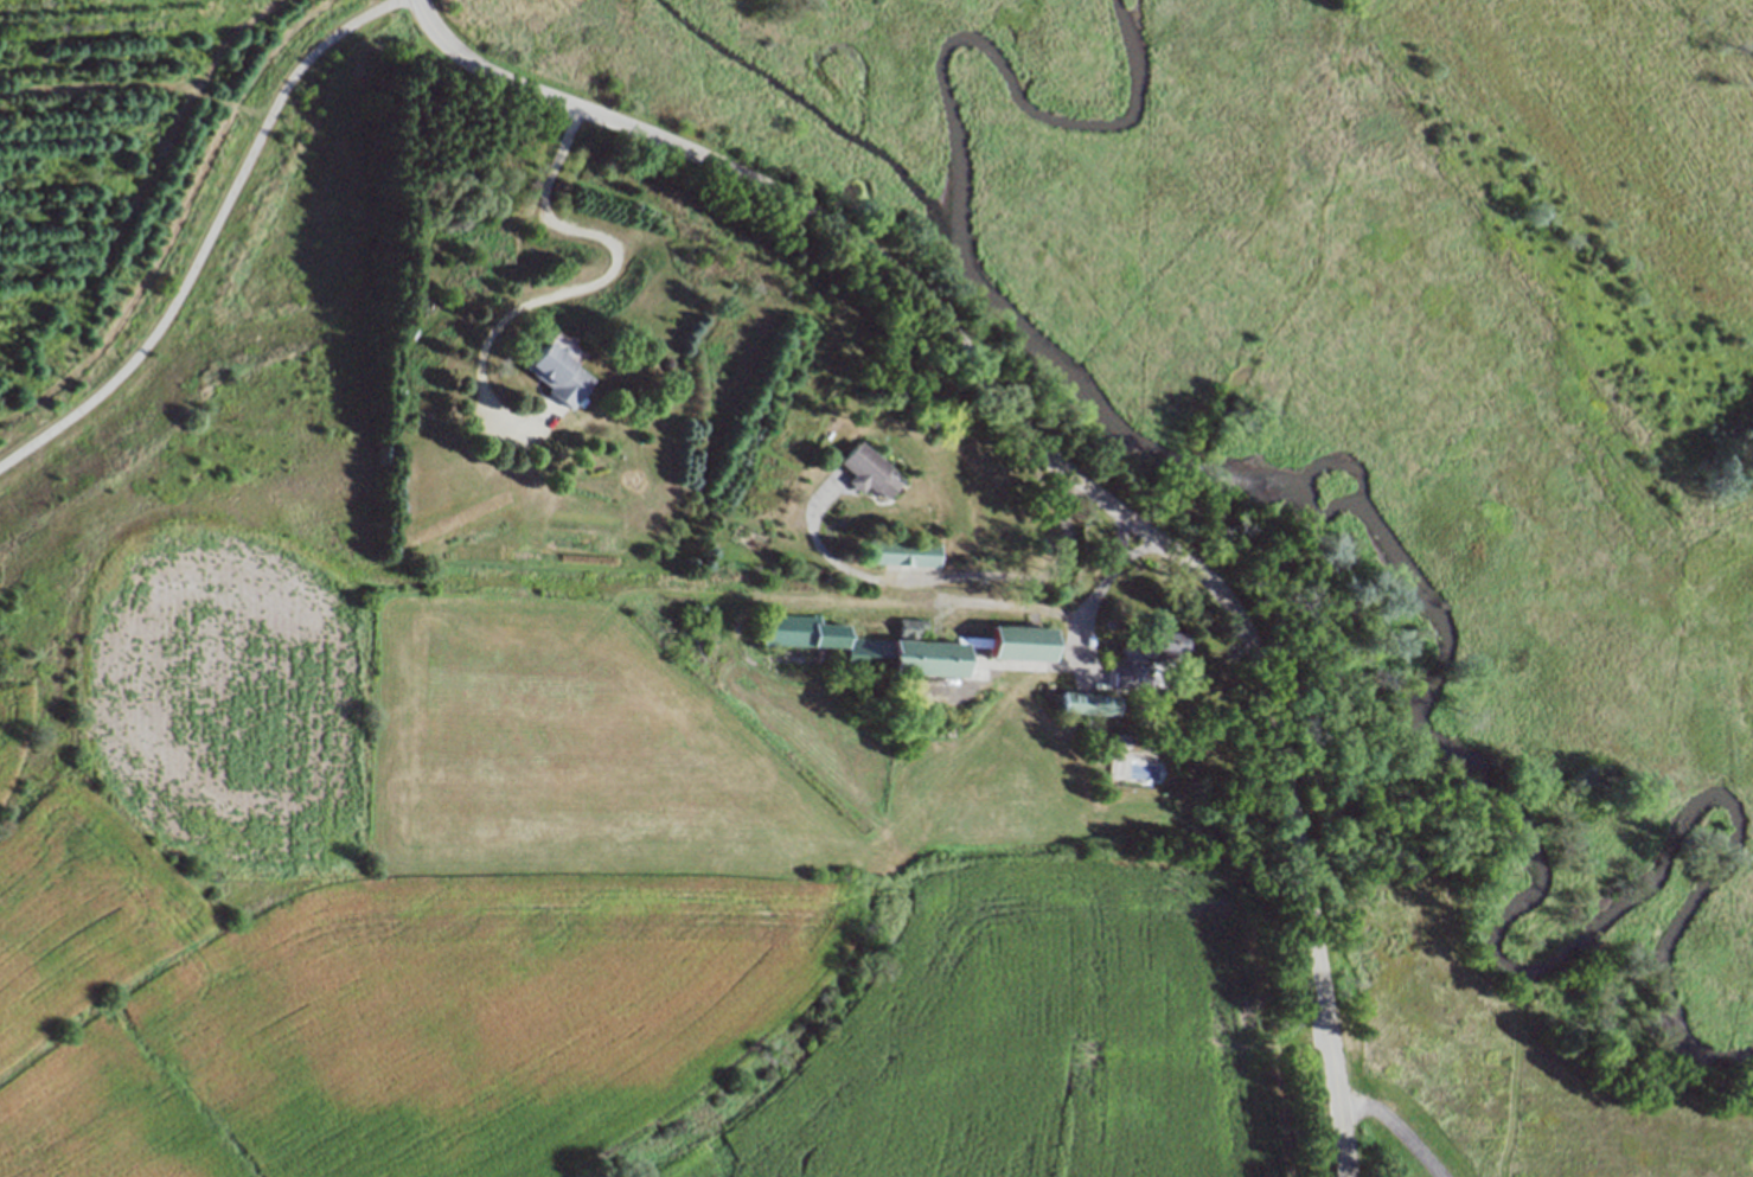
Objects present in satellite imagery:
road: (210, 238)
road: (567, 289)
building: (557, 370)
road: (1055, 462)
building: (862, 468)
building: (903, 551)
road: (945, 577)
road: (1058, 612)
building: (1016, 642)
building: (865, 647)
building: (1143, 654)
building: (1140, 680)
building: (1083, 703)
building: (1102, 779)
river: (1517, 785)
road: (1397, 1128)

